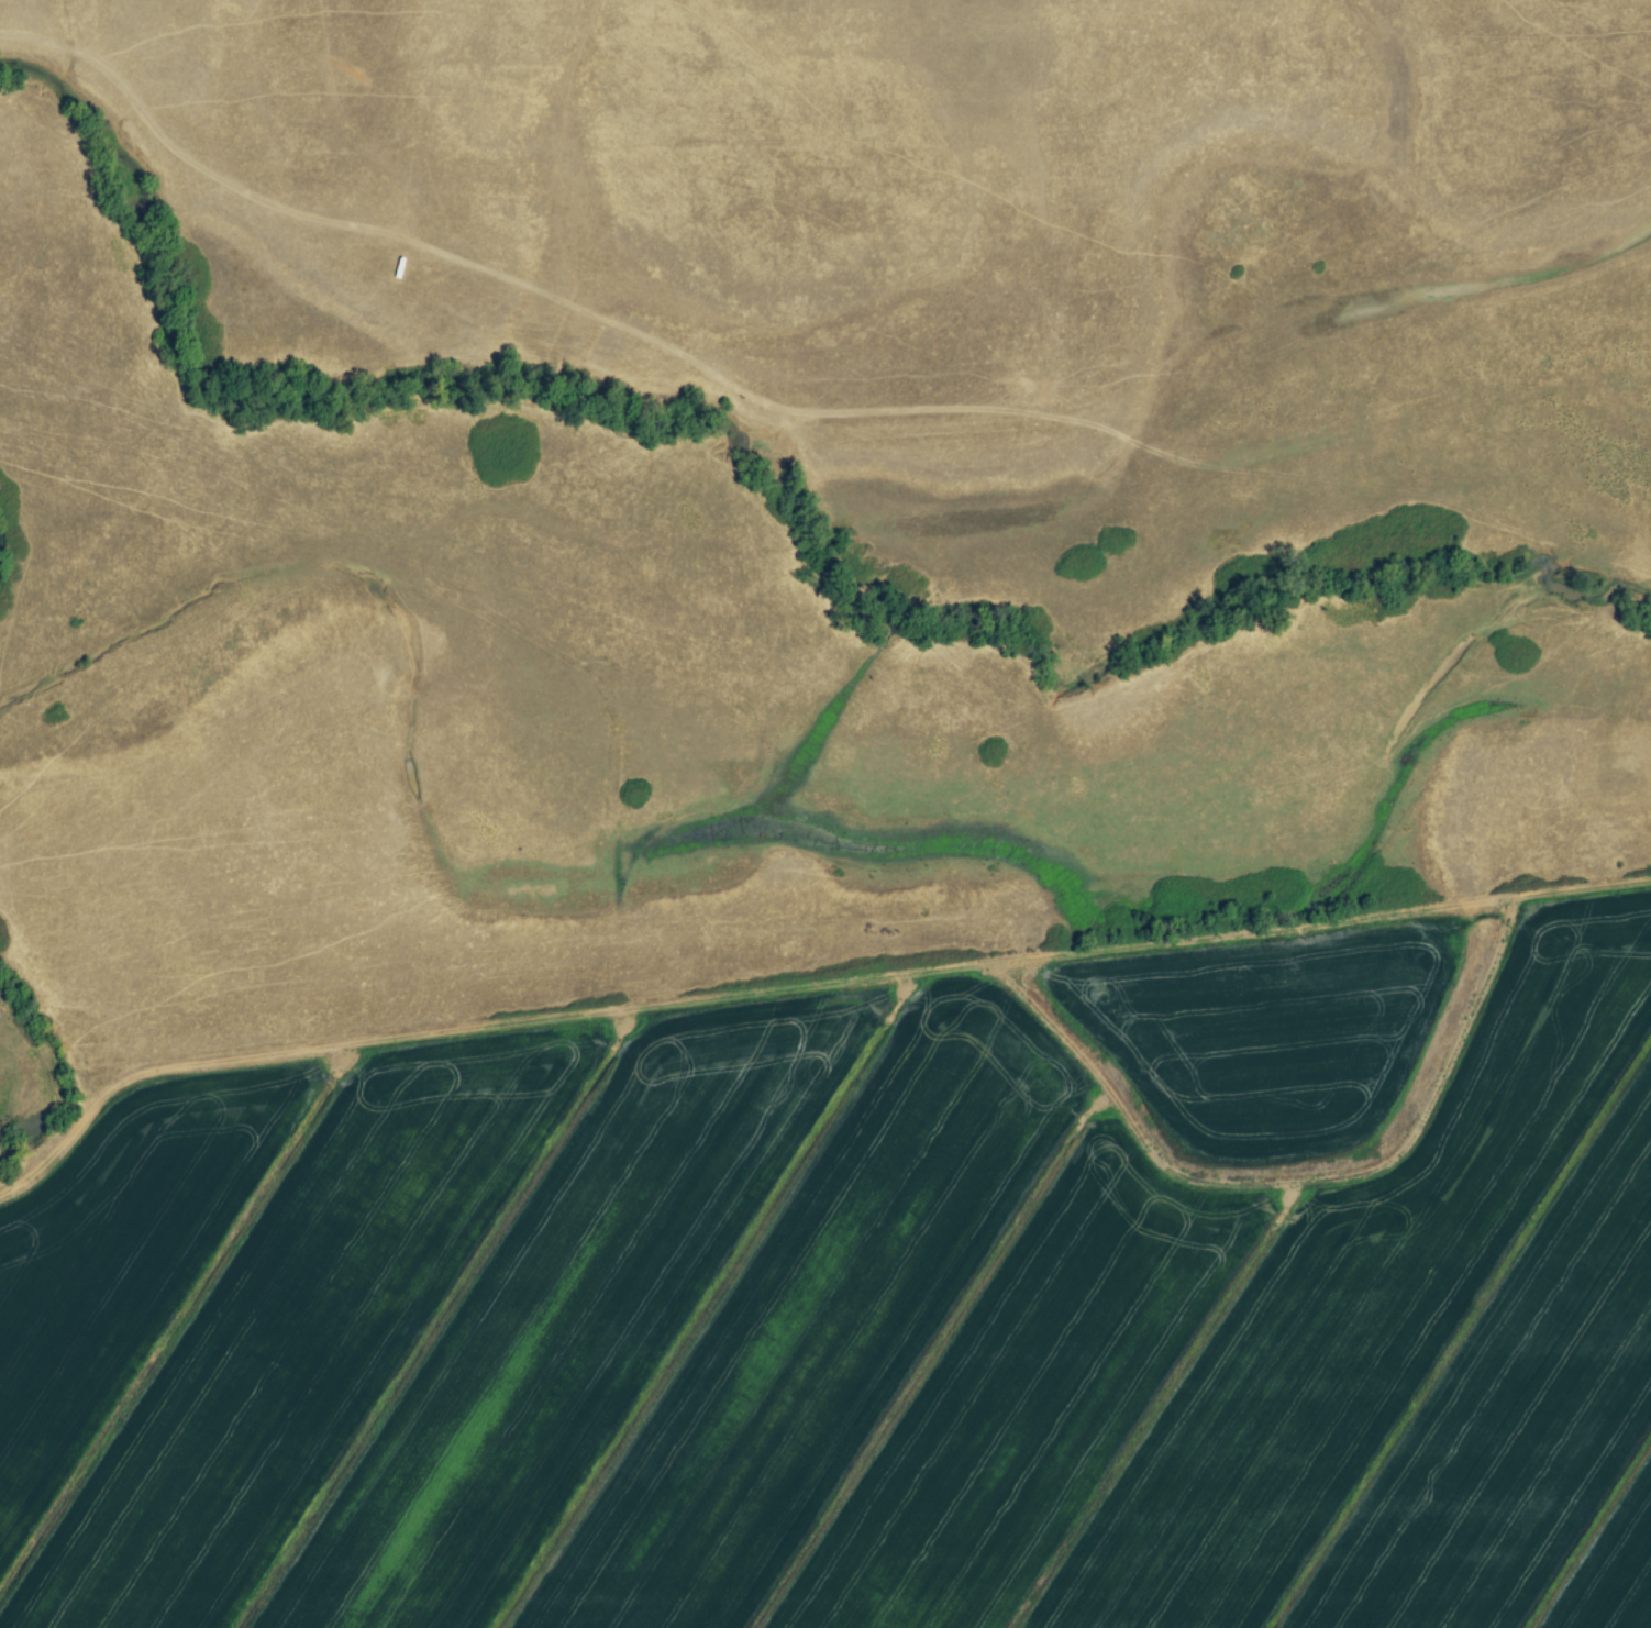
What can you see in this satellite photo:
road: (9, 1194)

